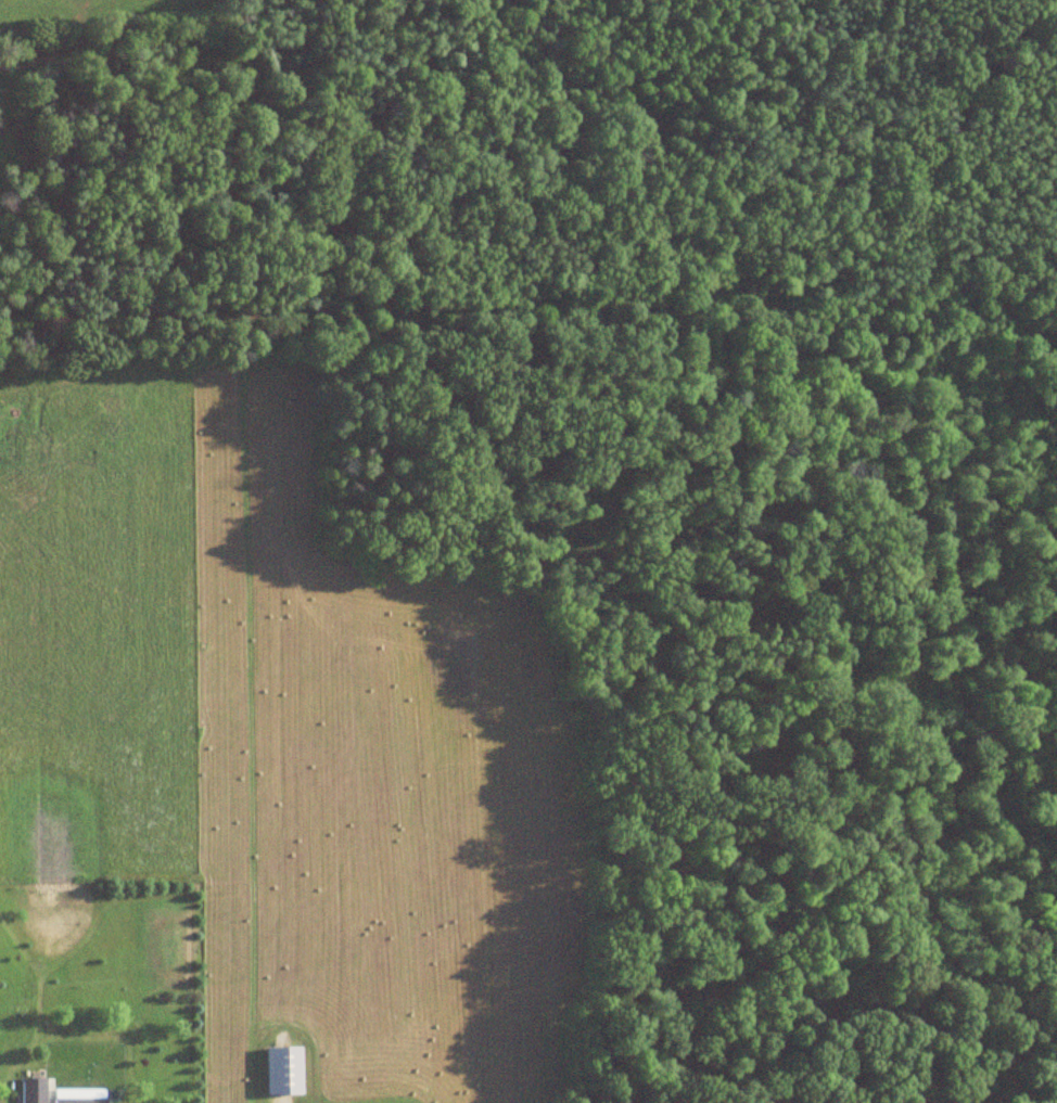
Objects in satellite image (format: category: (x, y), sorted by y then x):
building: (281, 1070)
building: (30, 1090)
building: (77, 1095)

